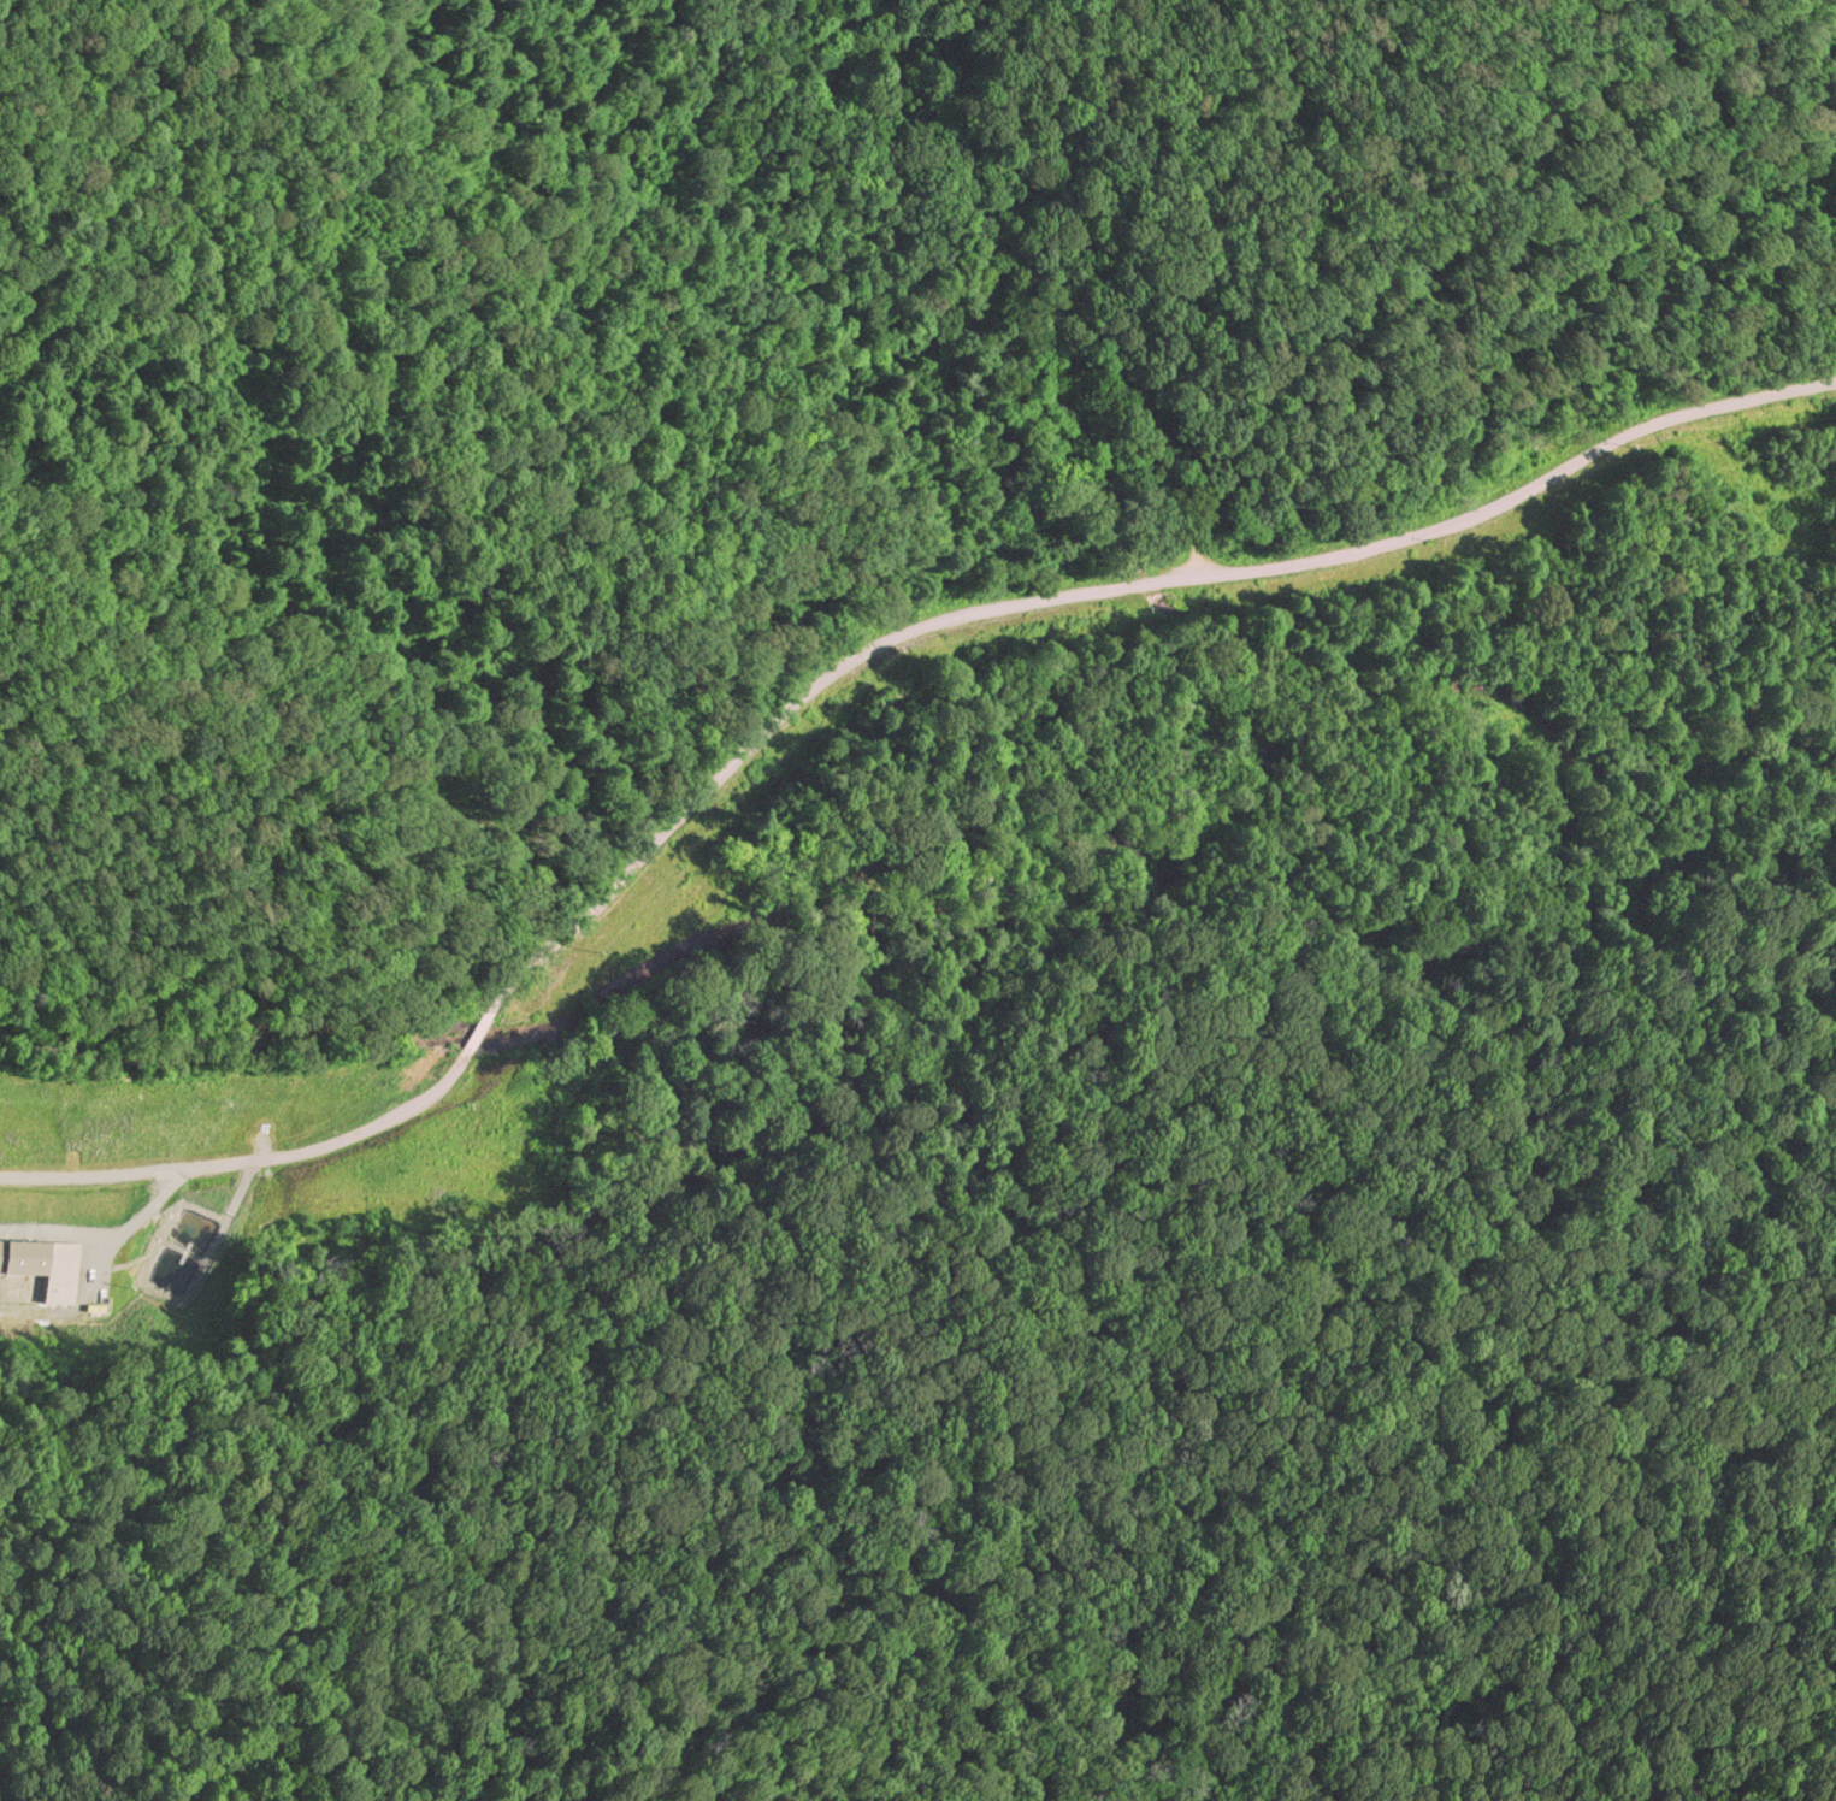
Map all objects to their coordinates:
road: (1104, 587)
road: (477, 1032)
road: (244, 1162)

